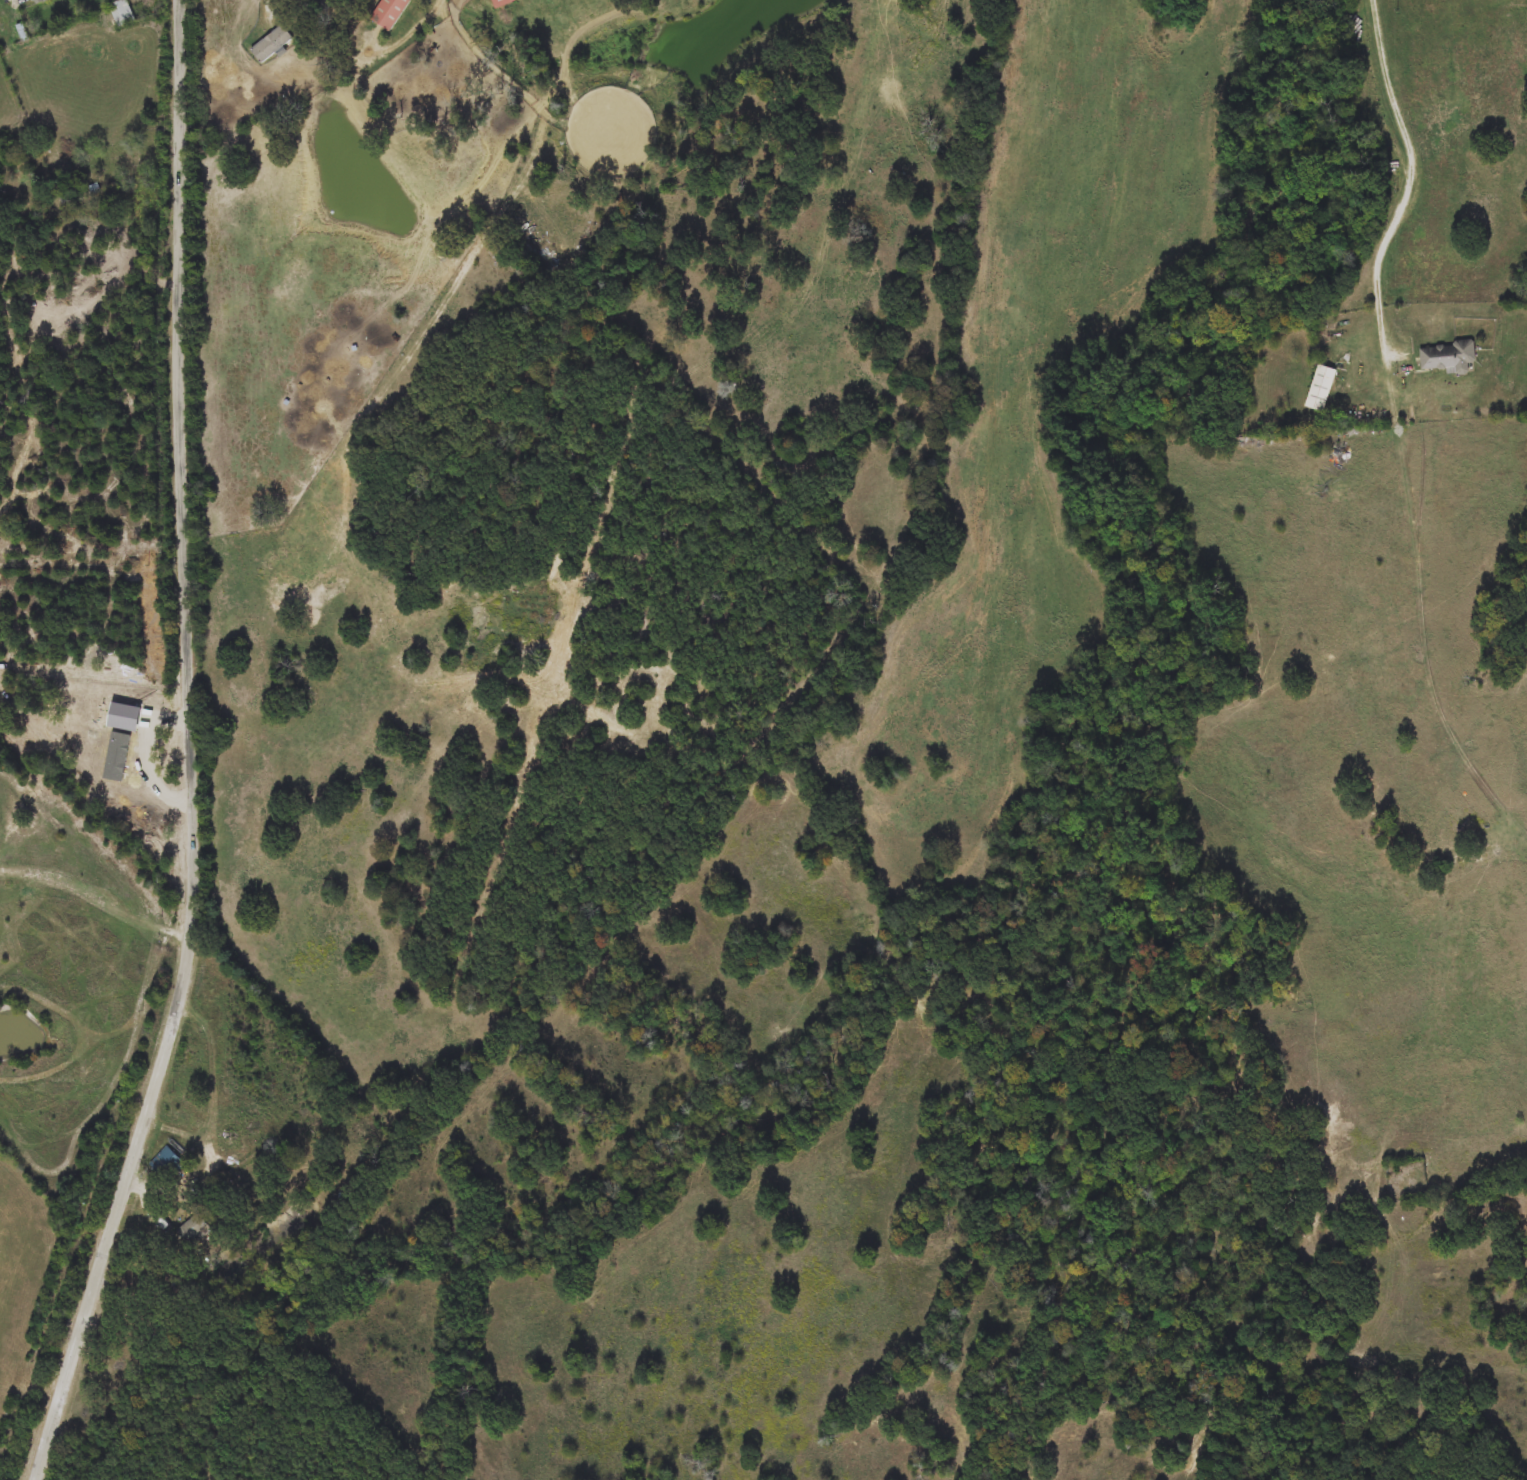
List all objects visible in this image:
building: (494, 1)
building: (37, 2)
building: (122, 13)
road: (1408, 178)
road: (177, 269)
building: (1449, 357)
building: (1319, 389)
road: (94, 916)
road: (176, 1019)
building: (167, 1165)
building: (194, 1231)

